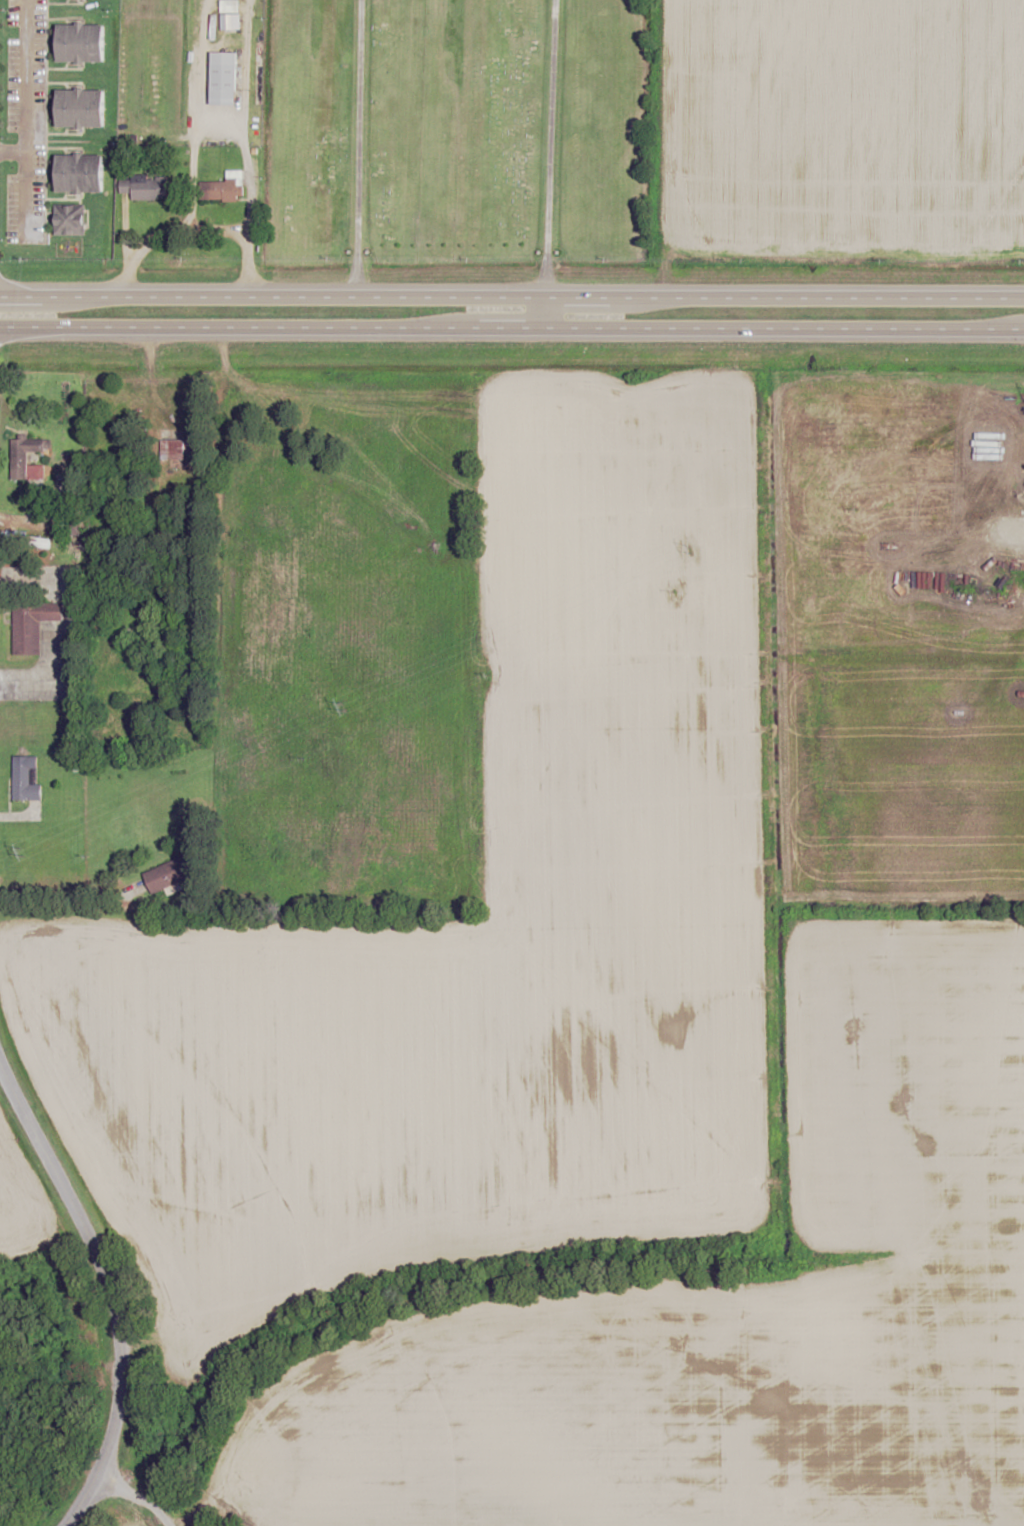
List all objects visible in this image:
building: (230, 6)
building: (230, 23)
building: (82, 43)
building: (224, 78)
building: (82, 109)
road: (26, 120)
road: (221, 126)
crop: (842, 130)
park: (456, 132)
road: (357, 149)
road: (548, 149)
road: (13, 151)
building: (81, 174)
road: (188, 176)
building: (222, 187)
building: (145, 188)
road: (247, 212)
building: (70, 219)
road: (123, 231)
road: (164, 234)
road: (511, 298)
road: (511, 329)
building: (178, 448)
building: (19, 458)
building: (44, 543)
building: (31, 624)
building: (24, 780)
building: (169, 874)
road: (103, 1266)
road: (134, 1498)
road: (83, 1505)

